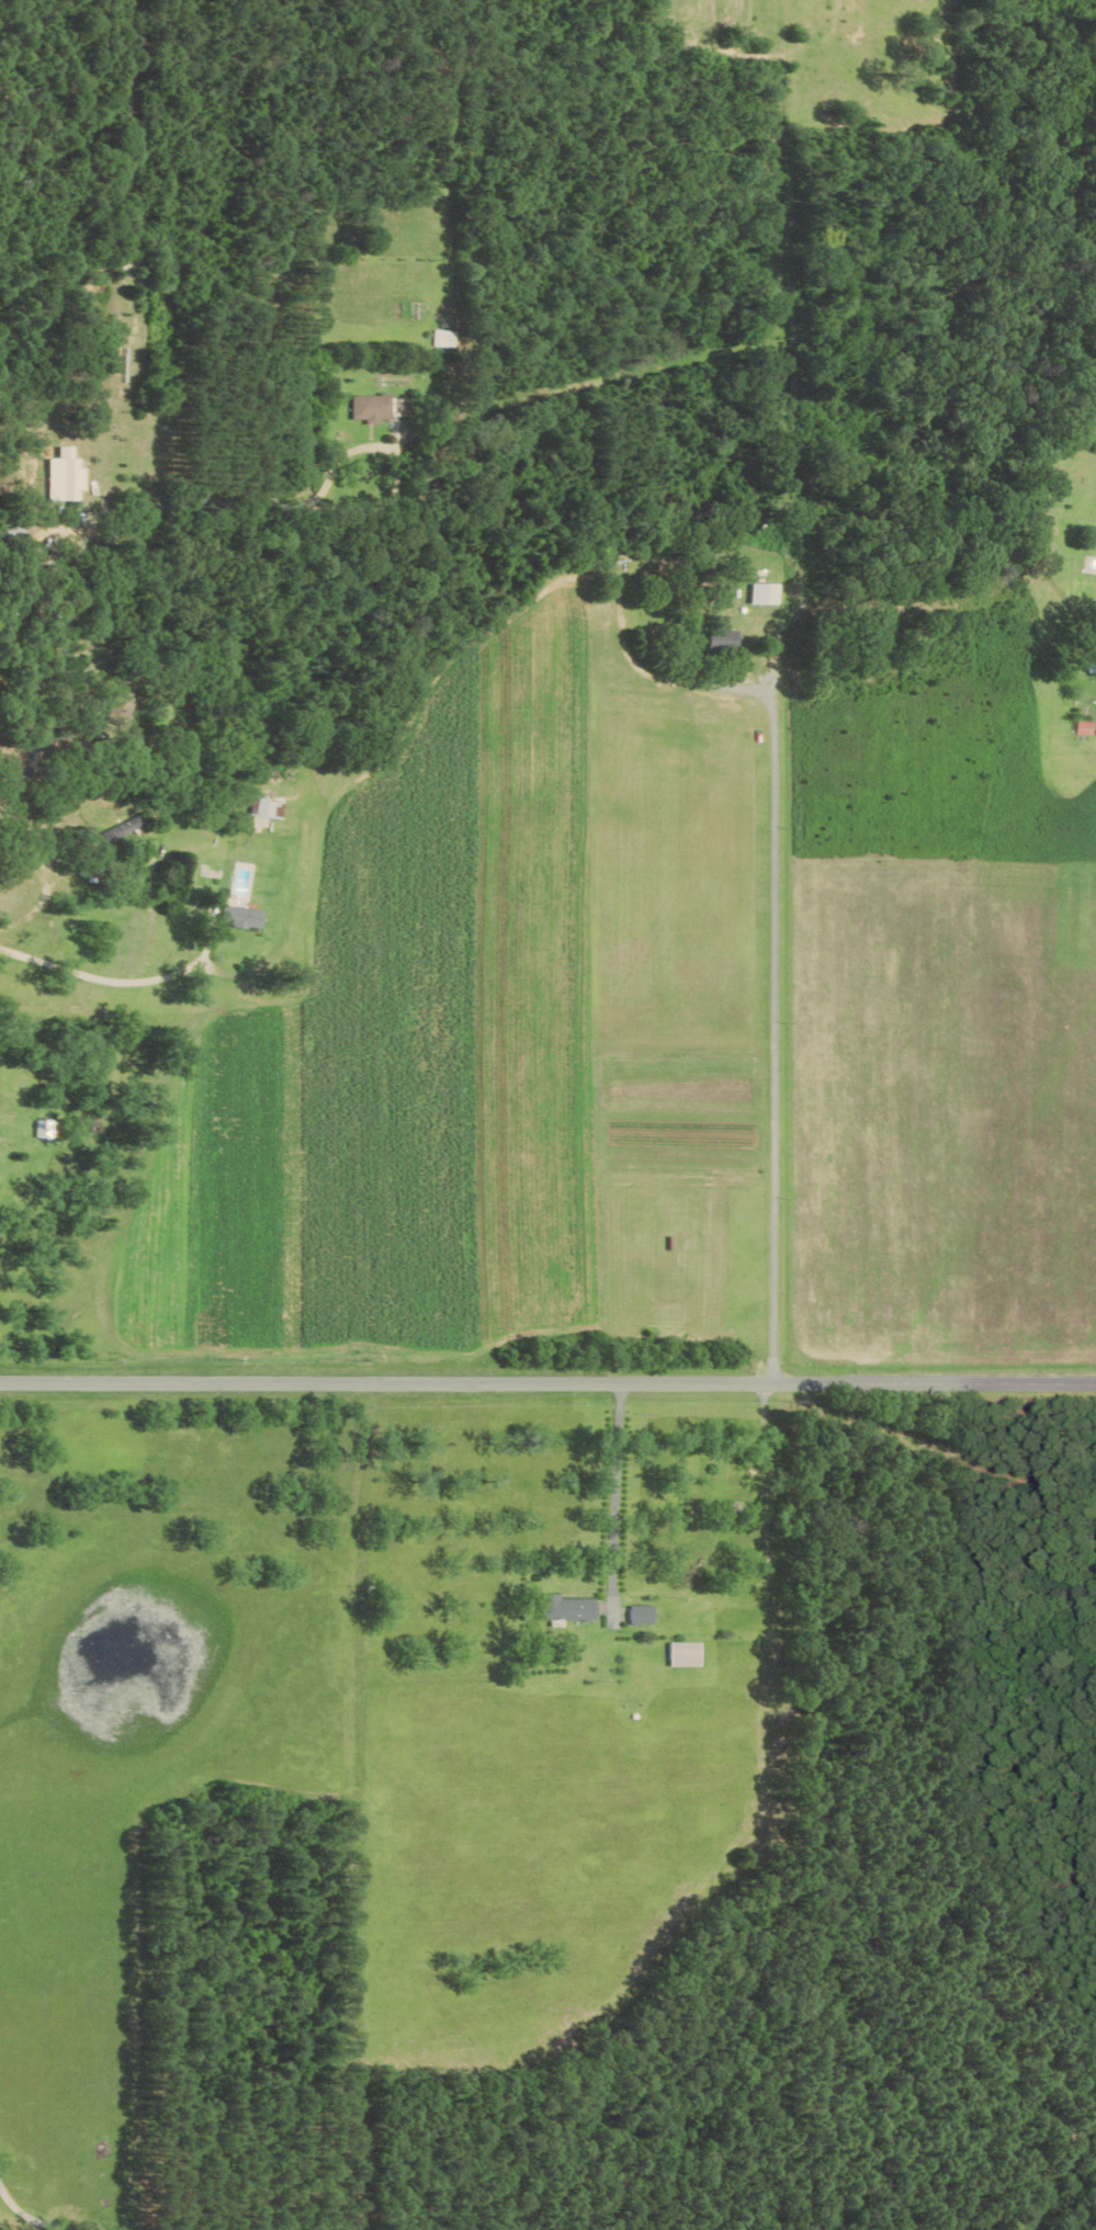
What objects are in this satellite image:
building: (441, 338)
building: (376, 407)
road: (134, 427)
building: (67, 476)
building: (762, 593)
building: (1086, 728)
building: (271, 807)
building: (131, 827)
building: (246, 916)
road: (131, 978)
road: (780, 1045)
building: (48, 1129)
road: (388, 1383)
road: (936, 1388)
road: (615, 1497)
building: (567, 1608)
building: (643, 1615)
building: (686, 1653)
road: (35, 2219)

